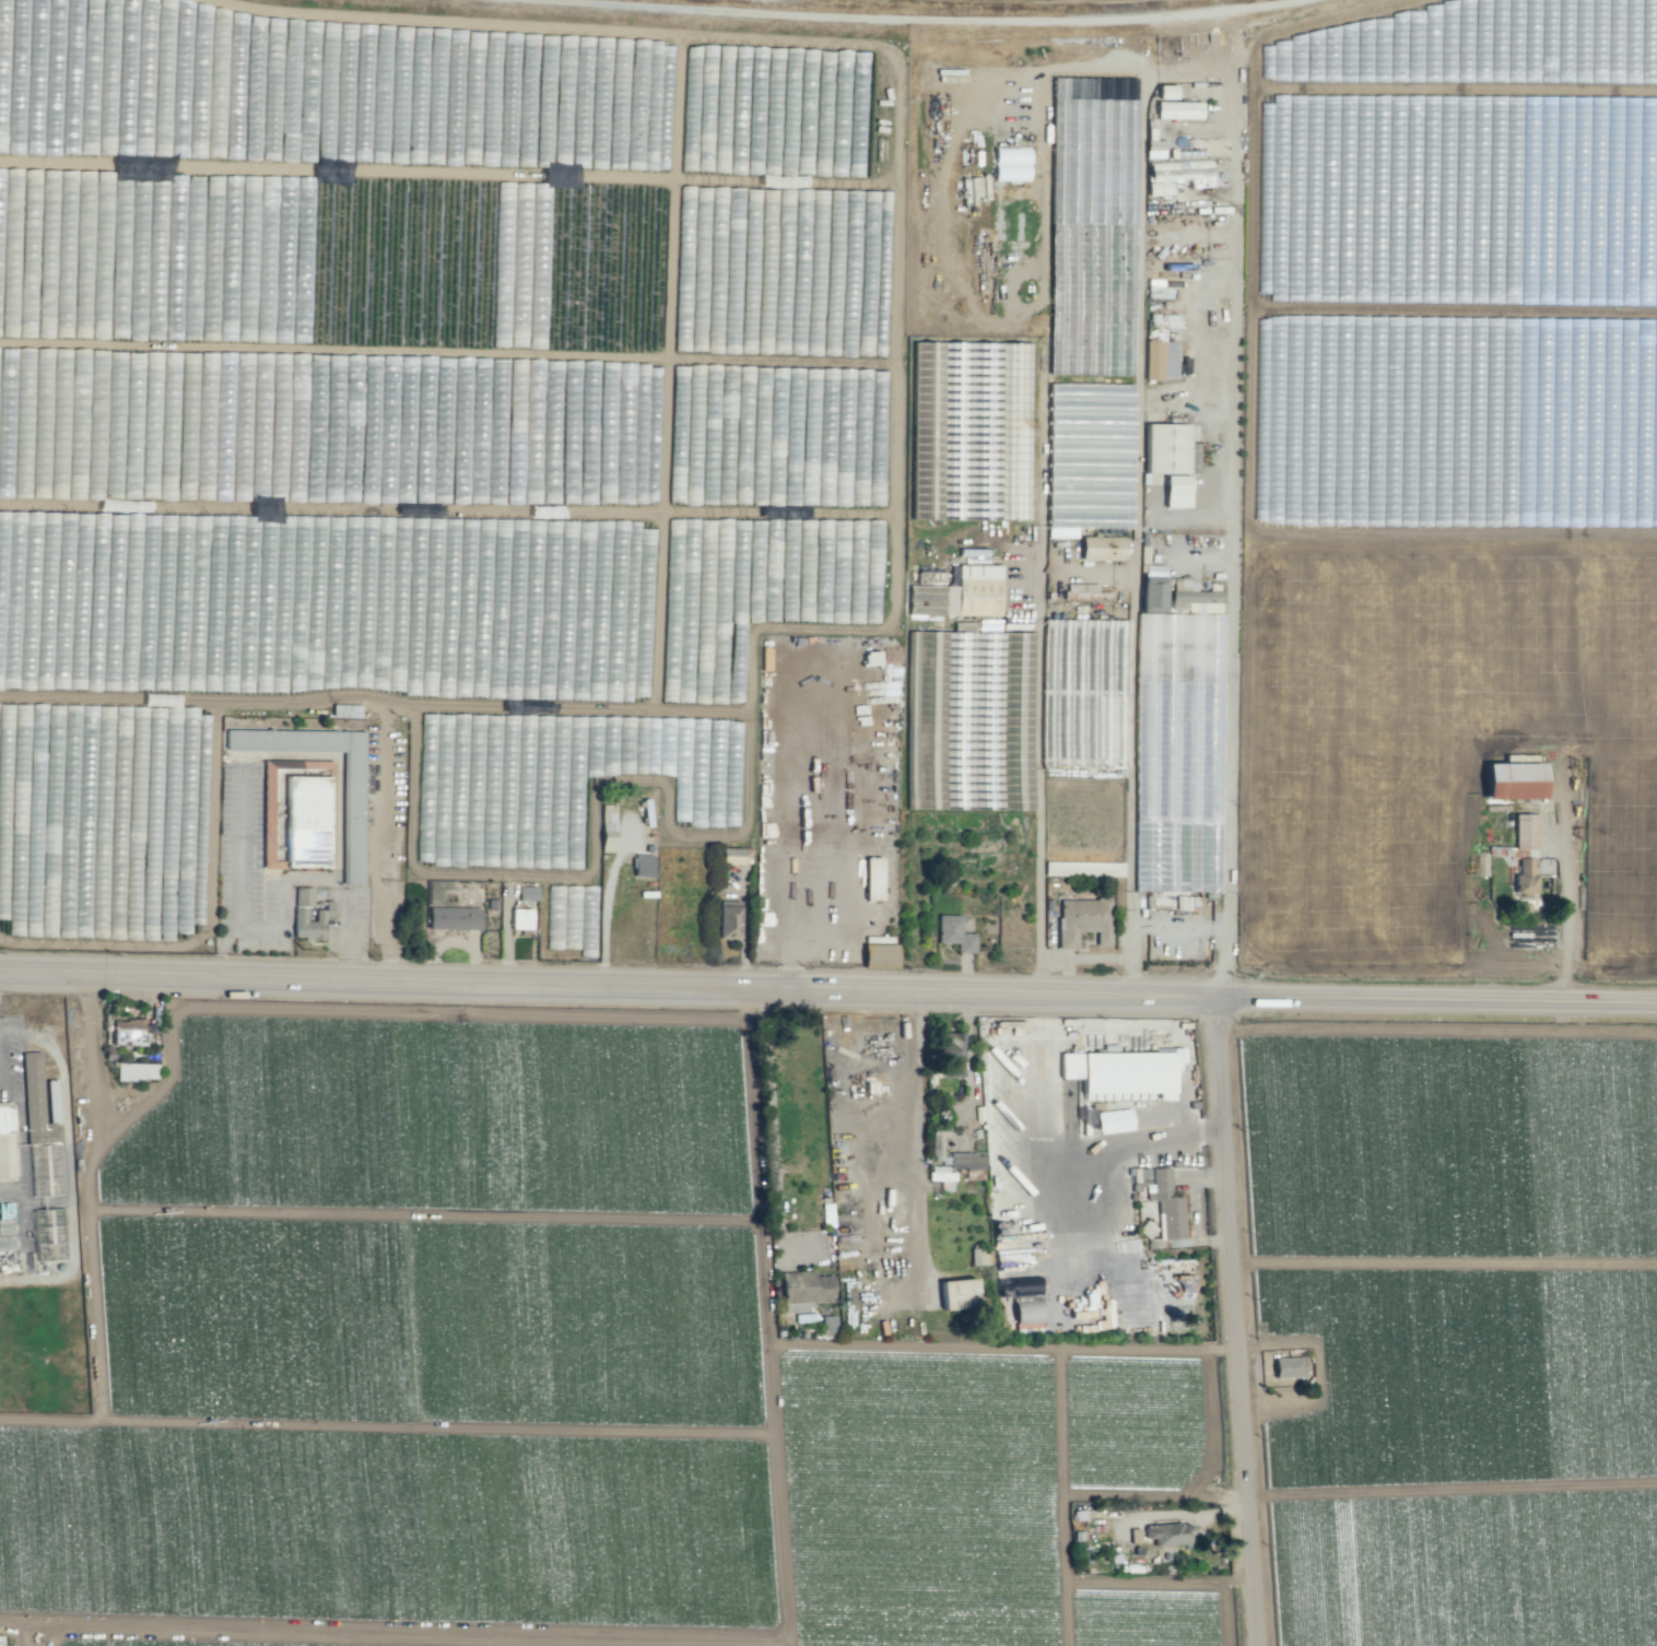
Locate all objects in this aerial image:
building: (670, 74)
building: (1636, 75)
building: (1166, 91)
building: (1093, 96)
building: (1177, 109)
building: (1570, 115)
crop: (87, 144)
building: (1154, 149)
building: (1011, 163)
building: (1179, 175)
building: (974, 188)
building: (527, 277)
building: (1164, 320)
building: (1153, 360)
building: (1171, 360)
building: (978, 427)
building: (1168, 448)
building: (1176, 491)
road: (1232, 501)
building: (1082, 502)
building: (920, 512)
crop: (1449, 521)
building: (1102, 548)
building: (972, 552)
building: (1153, 587)
building: (974, 591)
building: (1085, 591)
building: (296, 601)
building: (1082, 704)
building: (987, 732)
road: (1441, 744)
building: (1513, 780)
building: (482, 790)
building: (294, 812)
building: (352, 818)
building: (608, 827)
building: (1525, 851)
building: (731, 855)
building: (643, 865)
building: (1083, 868)
road: (1564, 874)
building: (872, 878)
building: (528, 893)
building: (322, 913)
building: (454, 917)
building: (520, 918)
building: (728, 919)
building: (1082, 921)
road: (789, 924)
building: (953, 933)
building: (879, 955)
road: (827, 990)
building: (129, 1032)
building: (952, 1054)
building: (137, 1071)
building: (1119, 1071)
building: (35, 1101)
building: (1113, 1120)
building: (938, 1138)
building: (5, 1141)
road: (1121, 1144)
building: (965, 1160)
building: (942, 1176)
building: (1164, 1200)
building: (826, 1214)
building: (1145, 1228)
building: (49, 1234)
building: (806, 1286)
building: (957, 1293)
building: (1024, 1302)
building: (1101, 1315)
building: (828, 1324)
road: (1238, 1324)
building: (1288, 1367)
building: (1170, 1533)
building: (1135, 1535)

